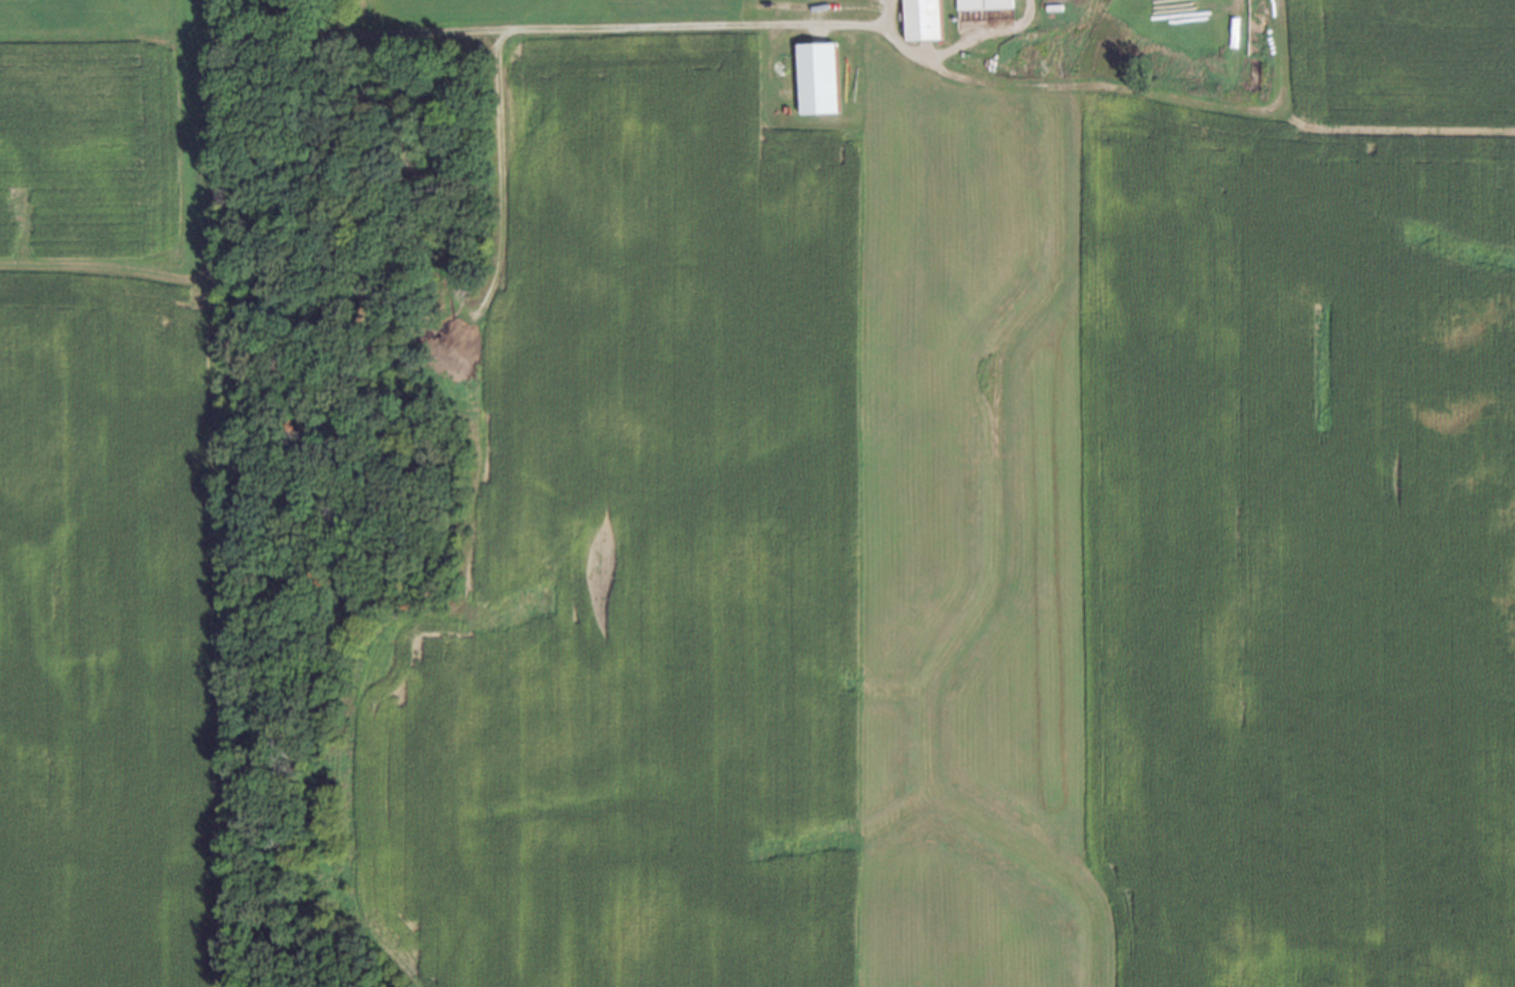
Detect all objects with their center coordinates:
building: (980, 3)
building: (917, 19)
road: (806, 23)
road: (946, 49)
building: (813, 78)

